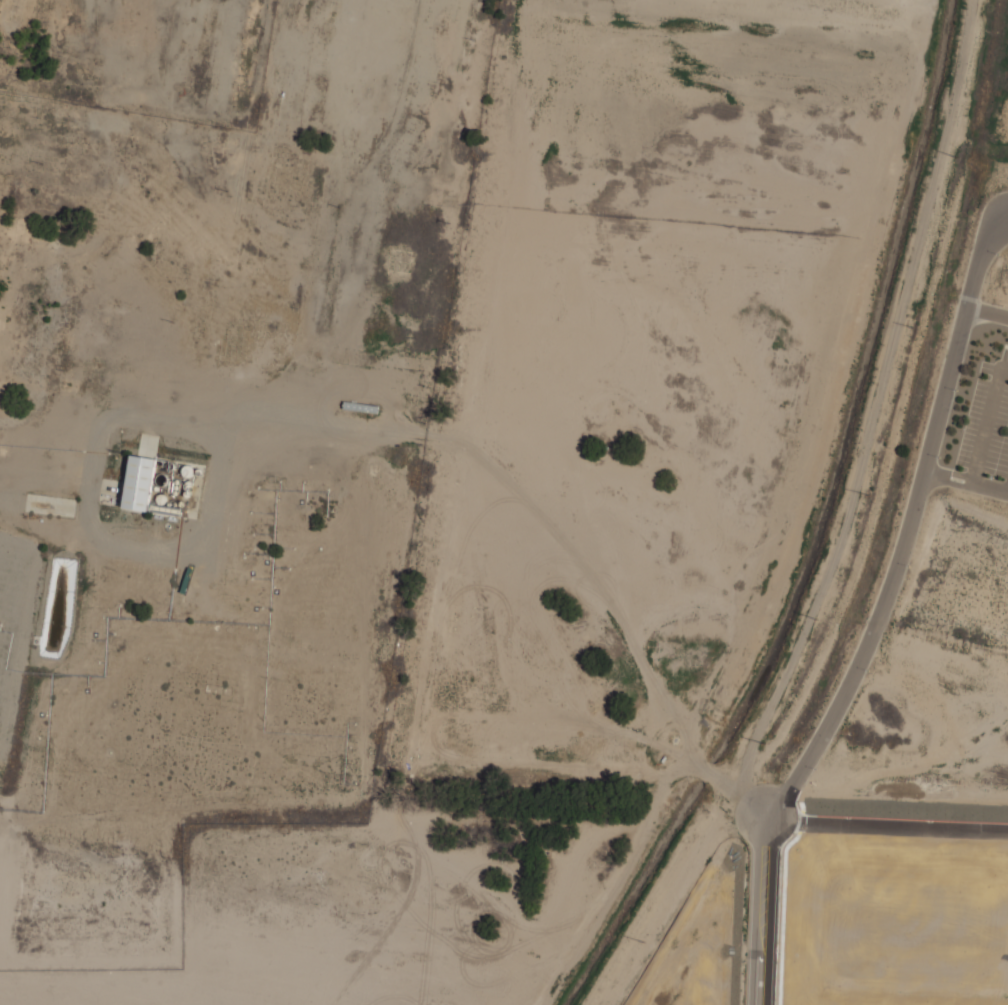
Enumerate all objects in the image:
road: (987, 312)
road: (986, 421)
road: (948, 476)
building: (137, 483)
road: (989, 487)
building: (167, 511)
road: (907, 528)
road: (885, 830)
road: (761, 915)

